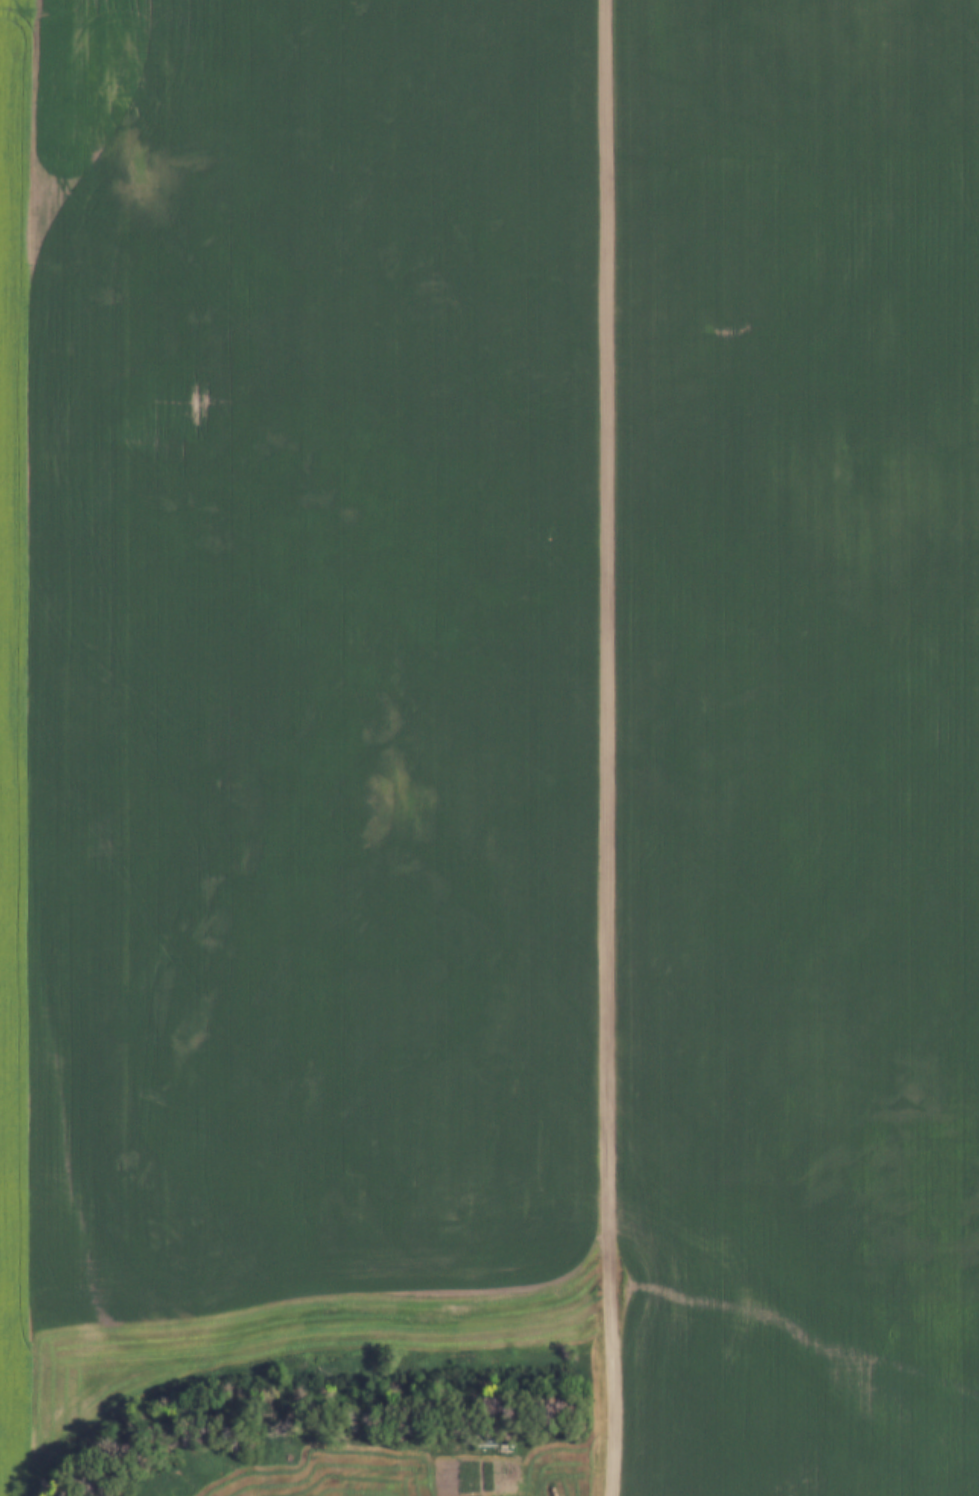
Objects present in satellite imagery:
road: (612, 748)

